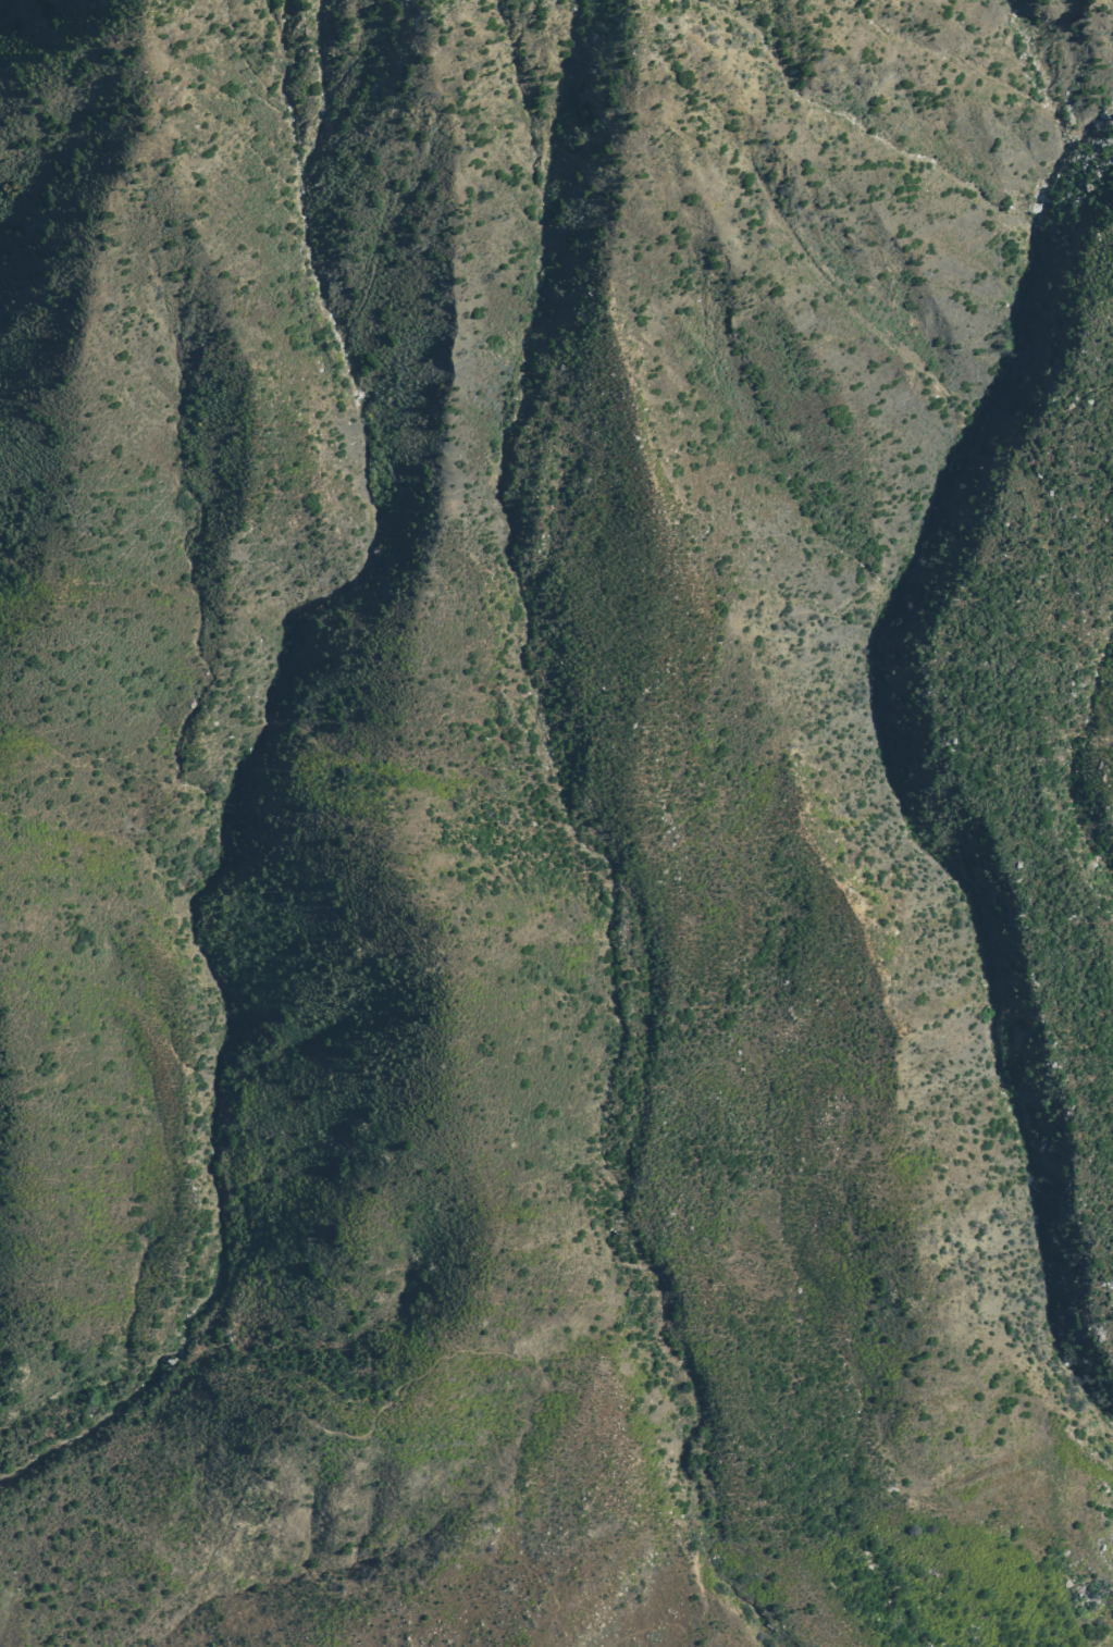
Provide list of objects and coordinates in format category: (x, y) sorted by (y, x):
road: (1106, 1642)

